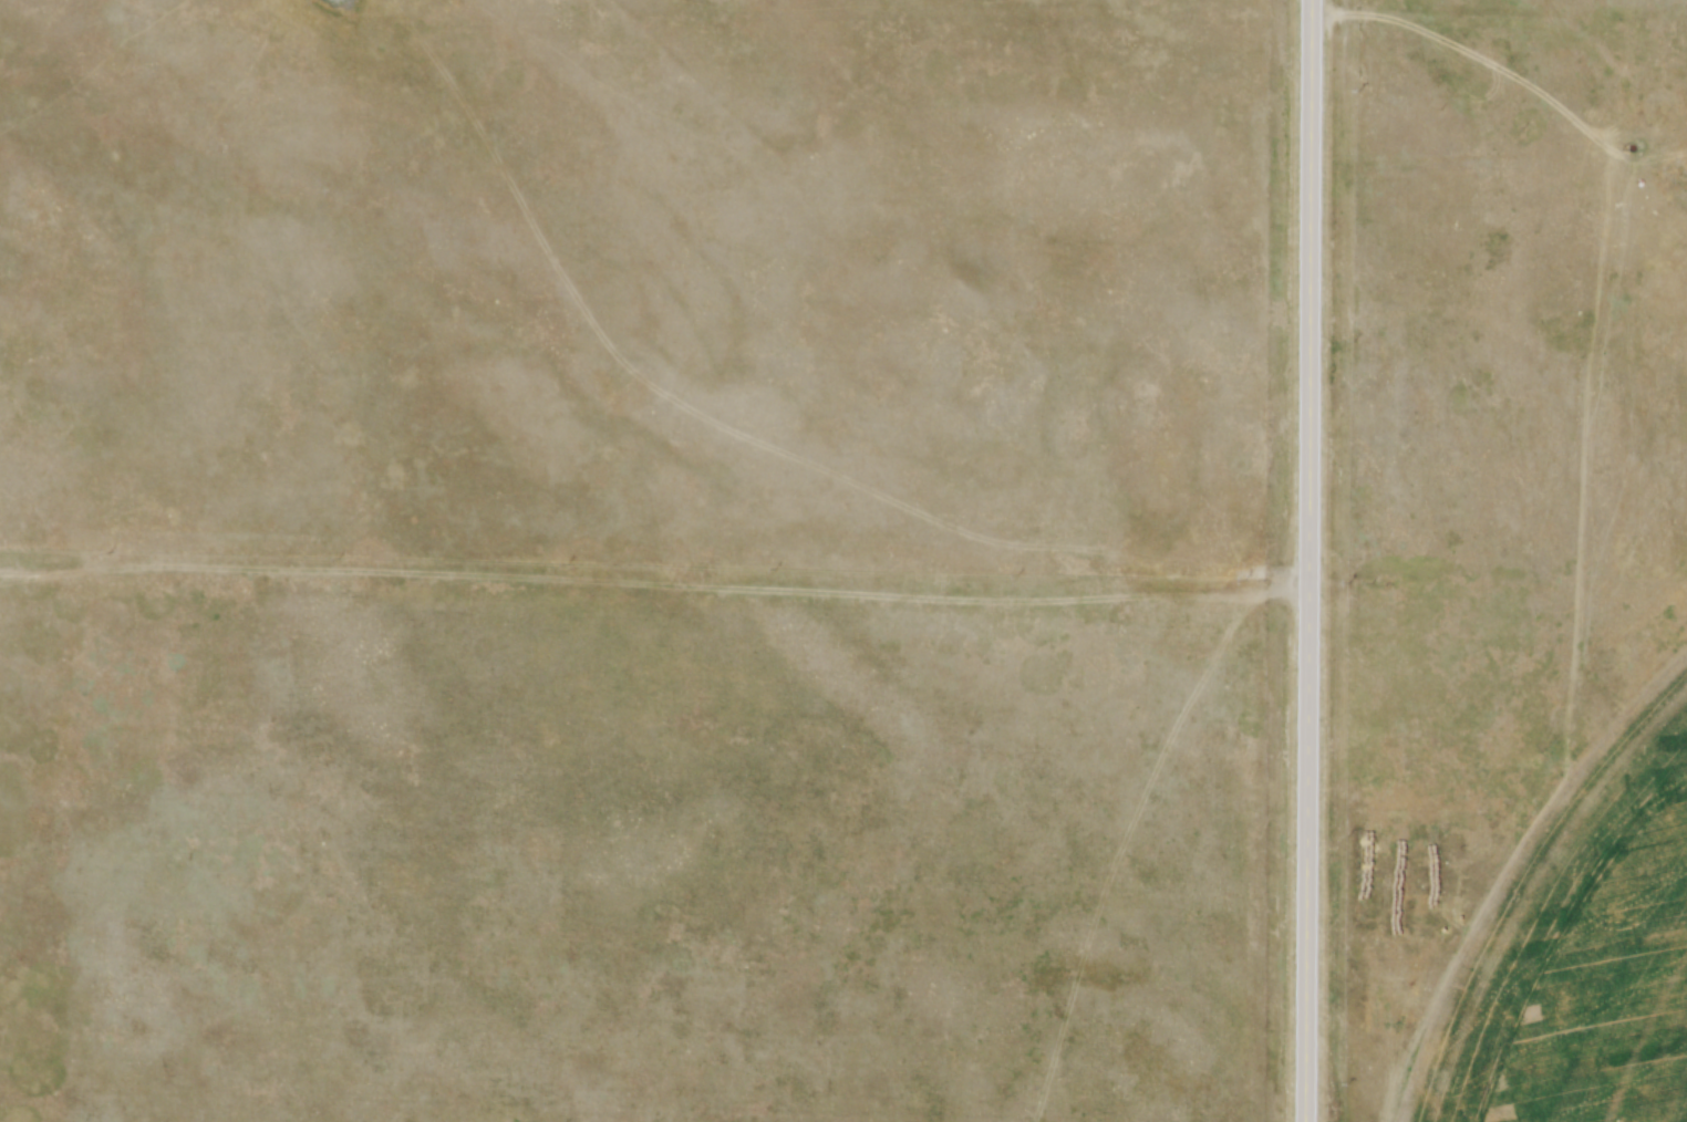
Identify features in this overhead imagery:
road: (1304, 561)
crop: (1586, 965)

